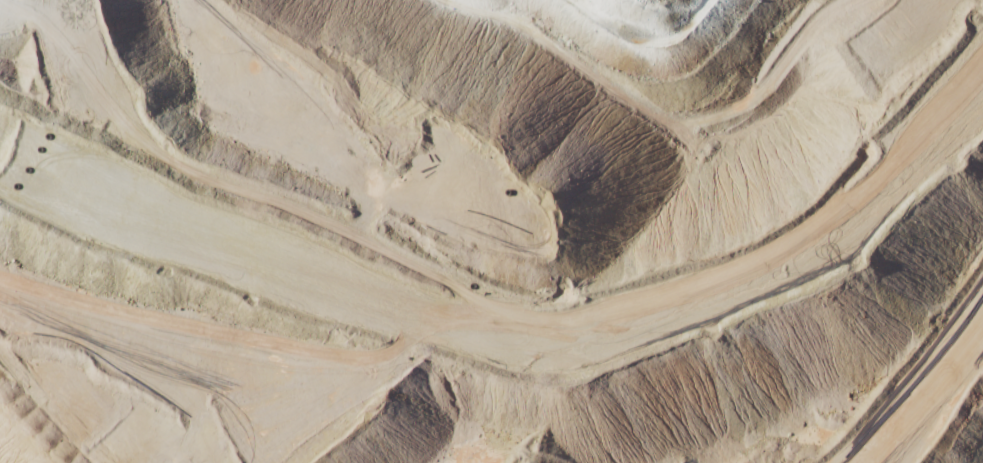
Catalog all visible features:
quarry: (491, 231)

